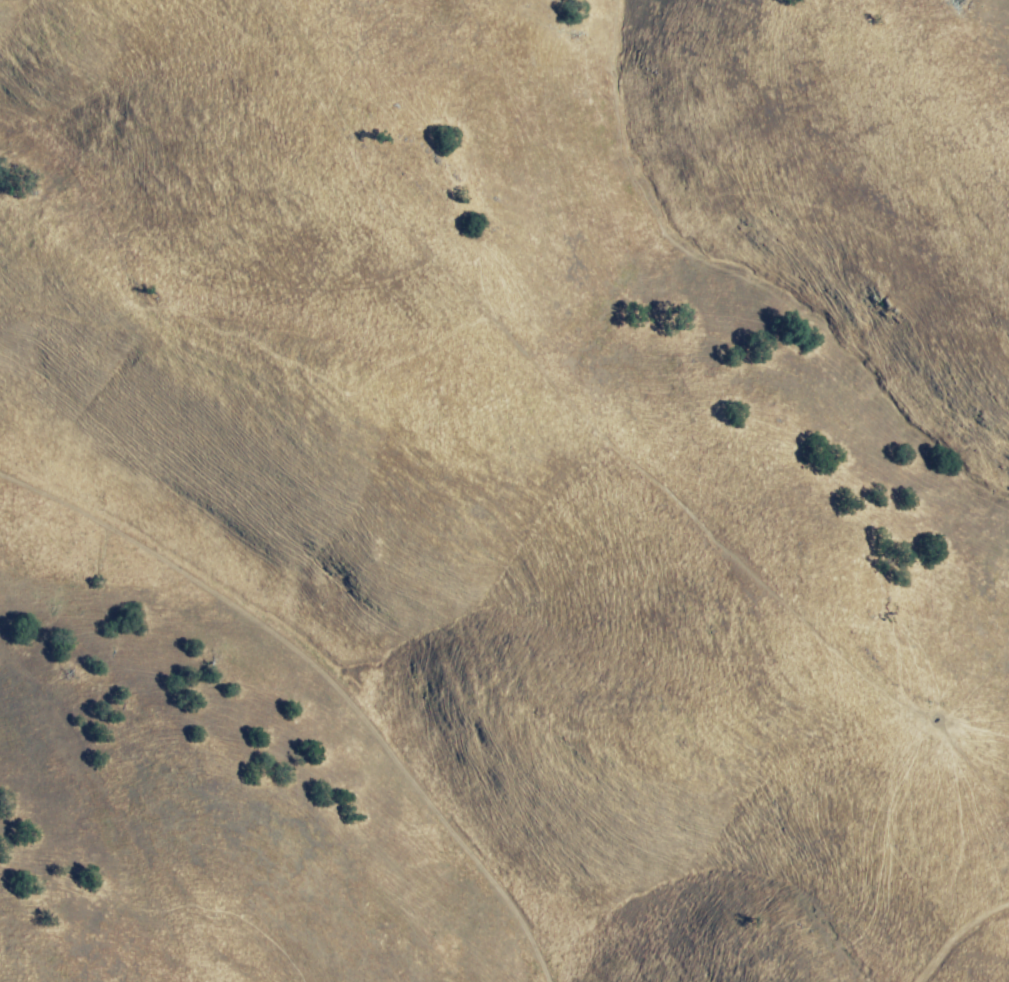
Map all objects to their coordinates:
road: (316, 681)
road: (953, 933)

